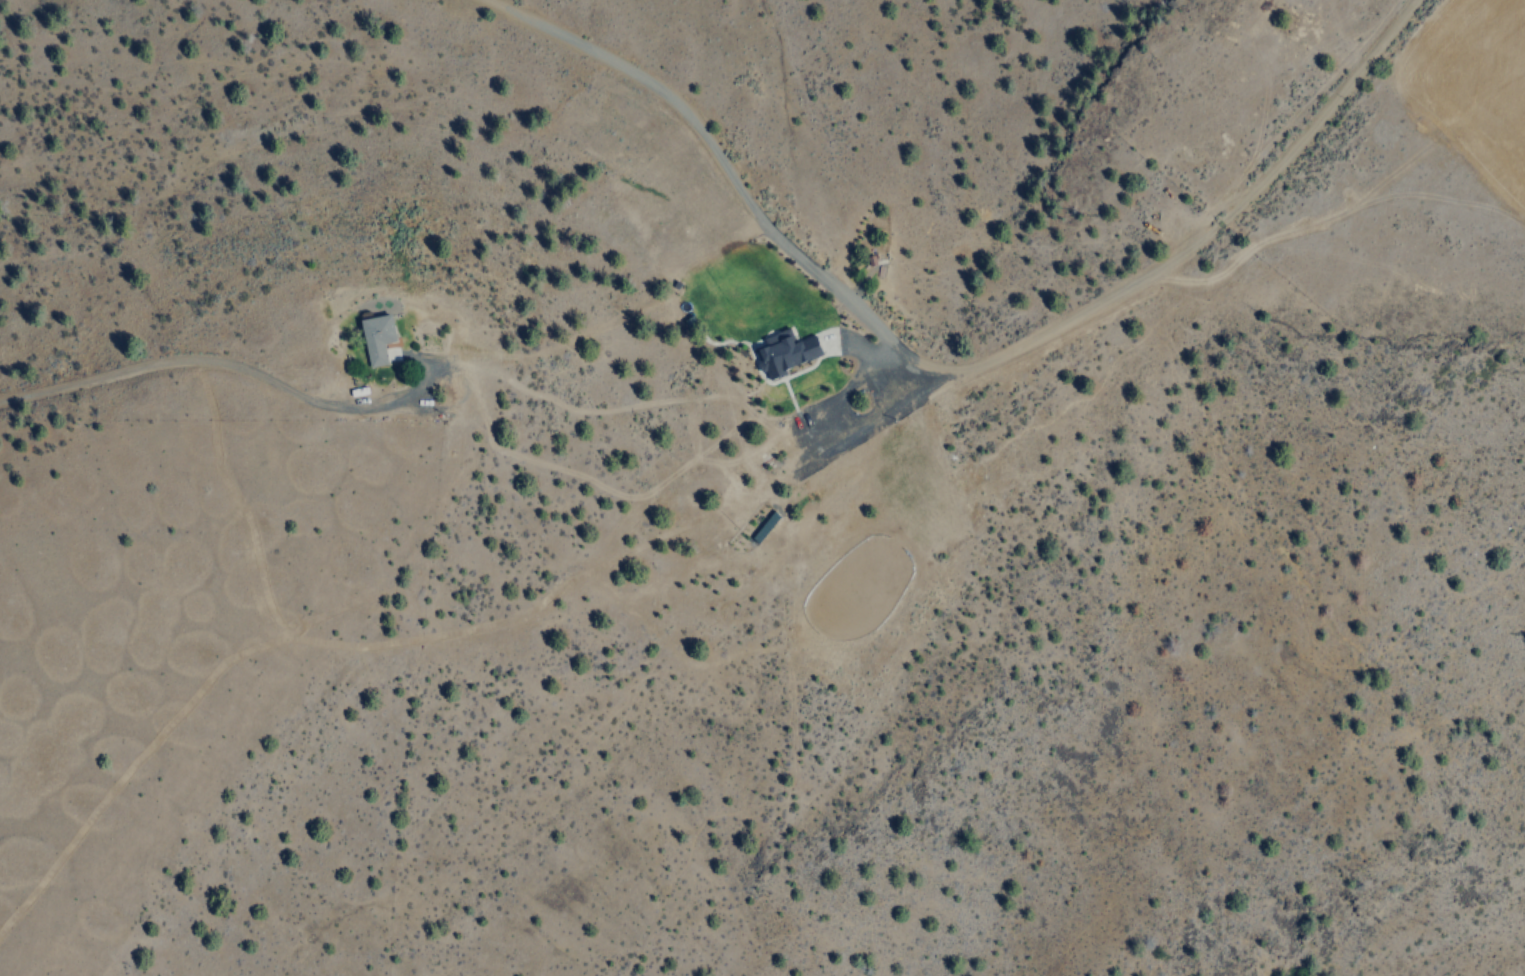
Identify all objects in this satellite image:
road: (203, 361)
road: (944, 366)

